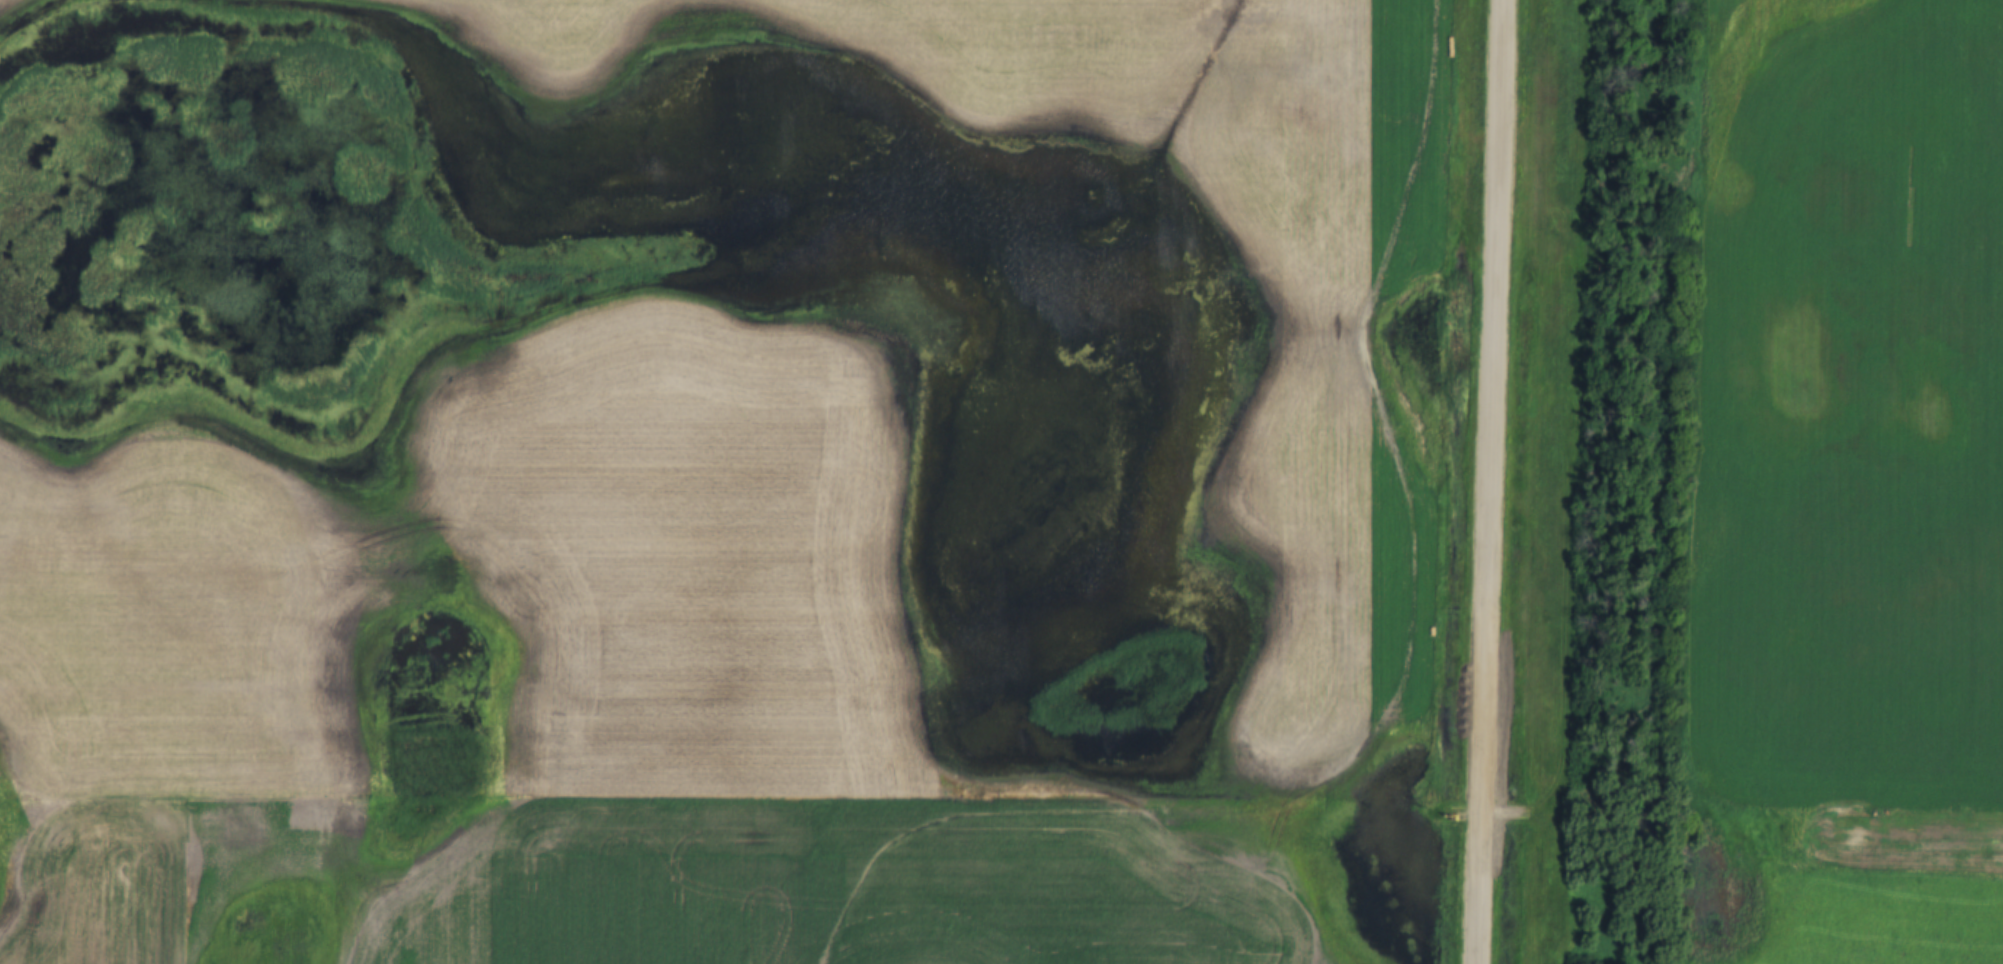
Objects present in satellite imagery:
road: (1489, 482)

